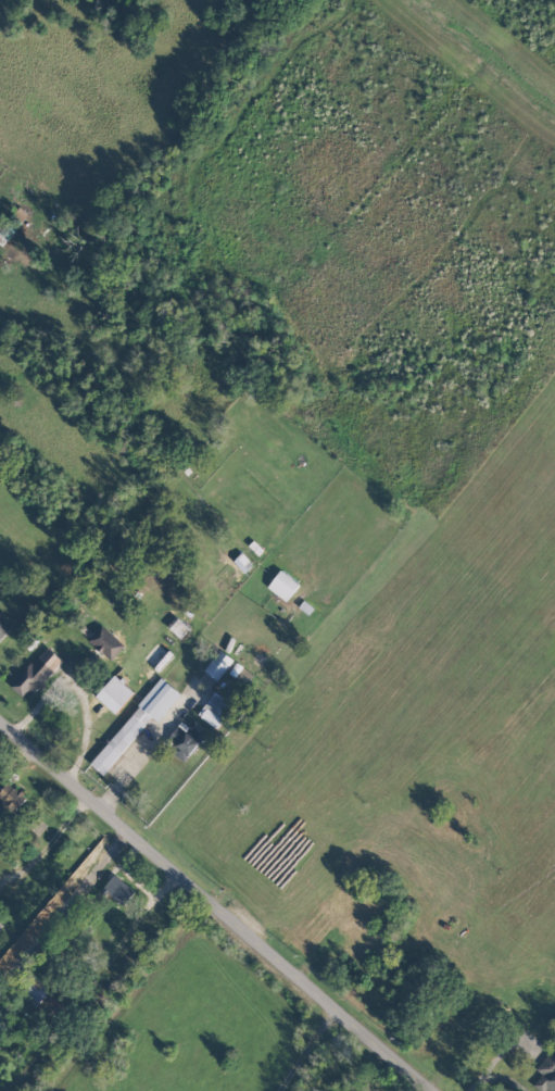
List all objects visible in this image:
building: (283, 585)
building: (3, 628)
building: (105, 642)
building: (218, 664)
building: (36, 673)
road: (78, 689)
building: (114, 693)
building: (215, 710)
building: (137, 723)
building: (186, 738)
road: (148, 745)
building: (11, 797)
road: (48, 843)
building: (118, 890)
road: (215, 905)
building: (0, 926)
building: (34, 991)
road: (493, 1077)

